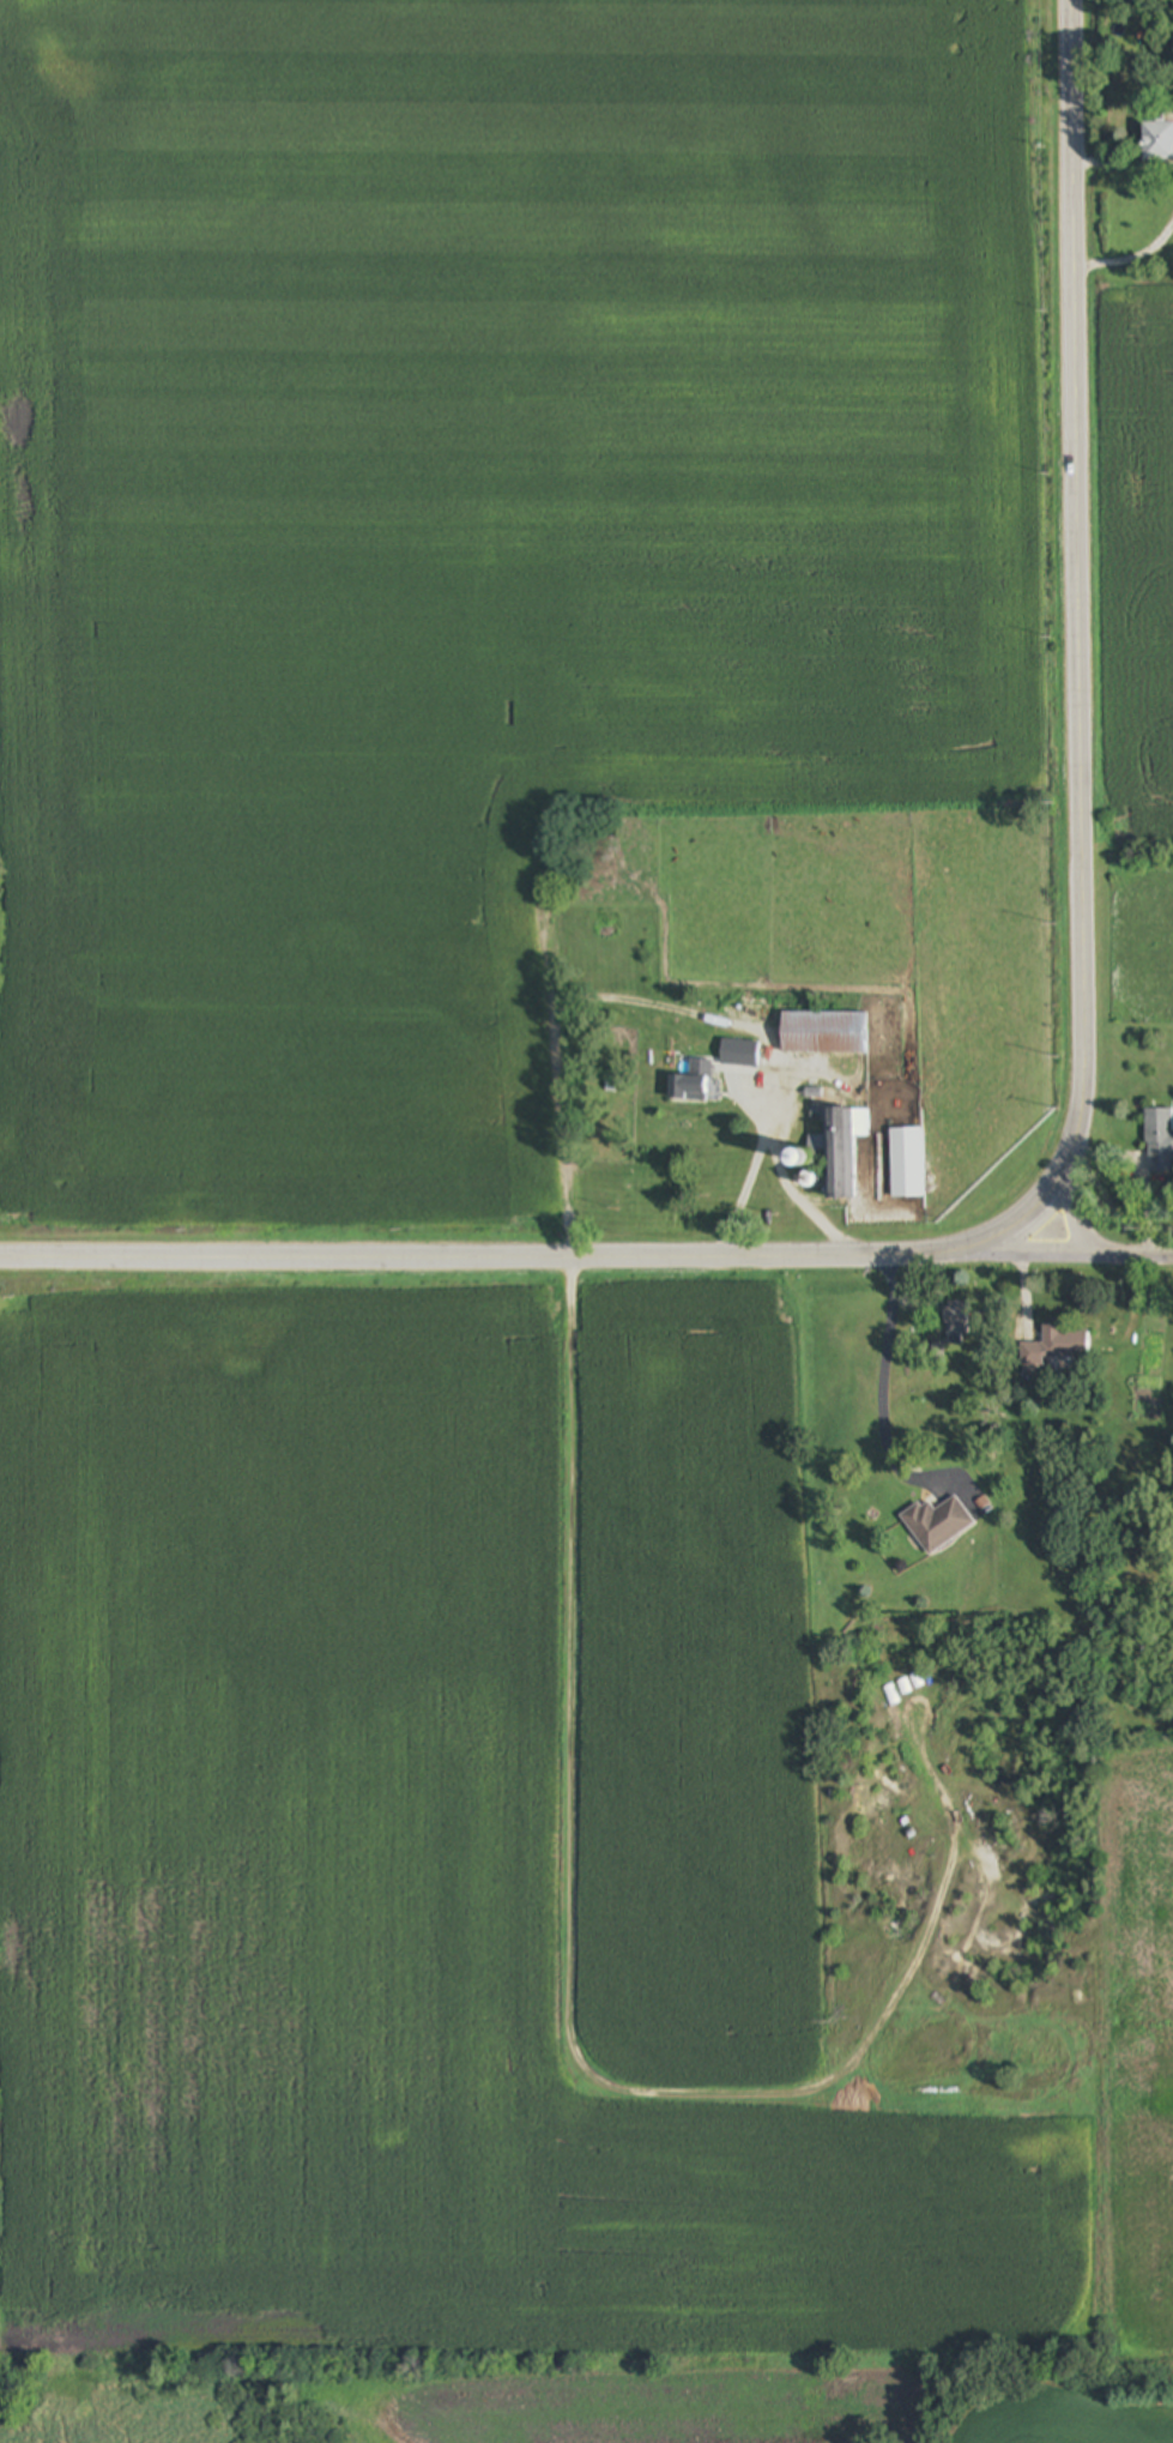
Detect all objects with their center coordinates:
building: (1159, 143)
road: (1124, 163)
road: (1132, 260)
building: (826, 1033)
building: (740, 1054)
building: (693, 1084)
road: (1078, 1134)
building: (1160, 1141)
building: (844, 1151)
building: (907, 1156)
road: (784, 1182)
road: (744, 1199)
road: (1032, 1259)
building: (957, 1323)
building: (1058, 1347)
road: (883, 1393)
building: (937, 1525)

